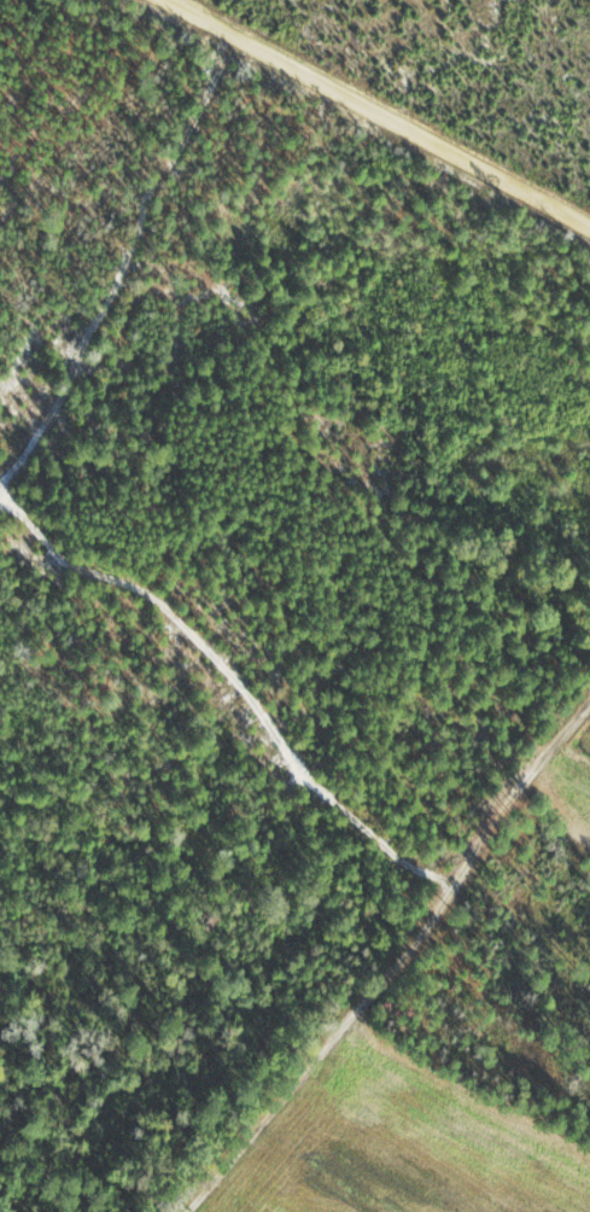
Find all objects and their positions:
road: (351, 145)
road: (390, 899)

